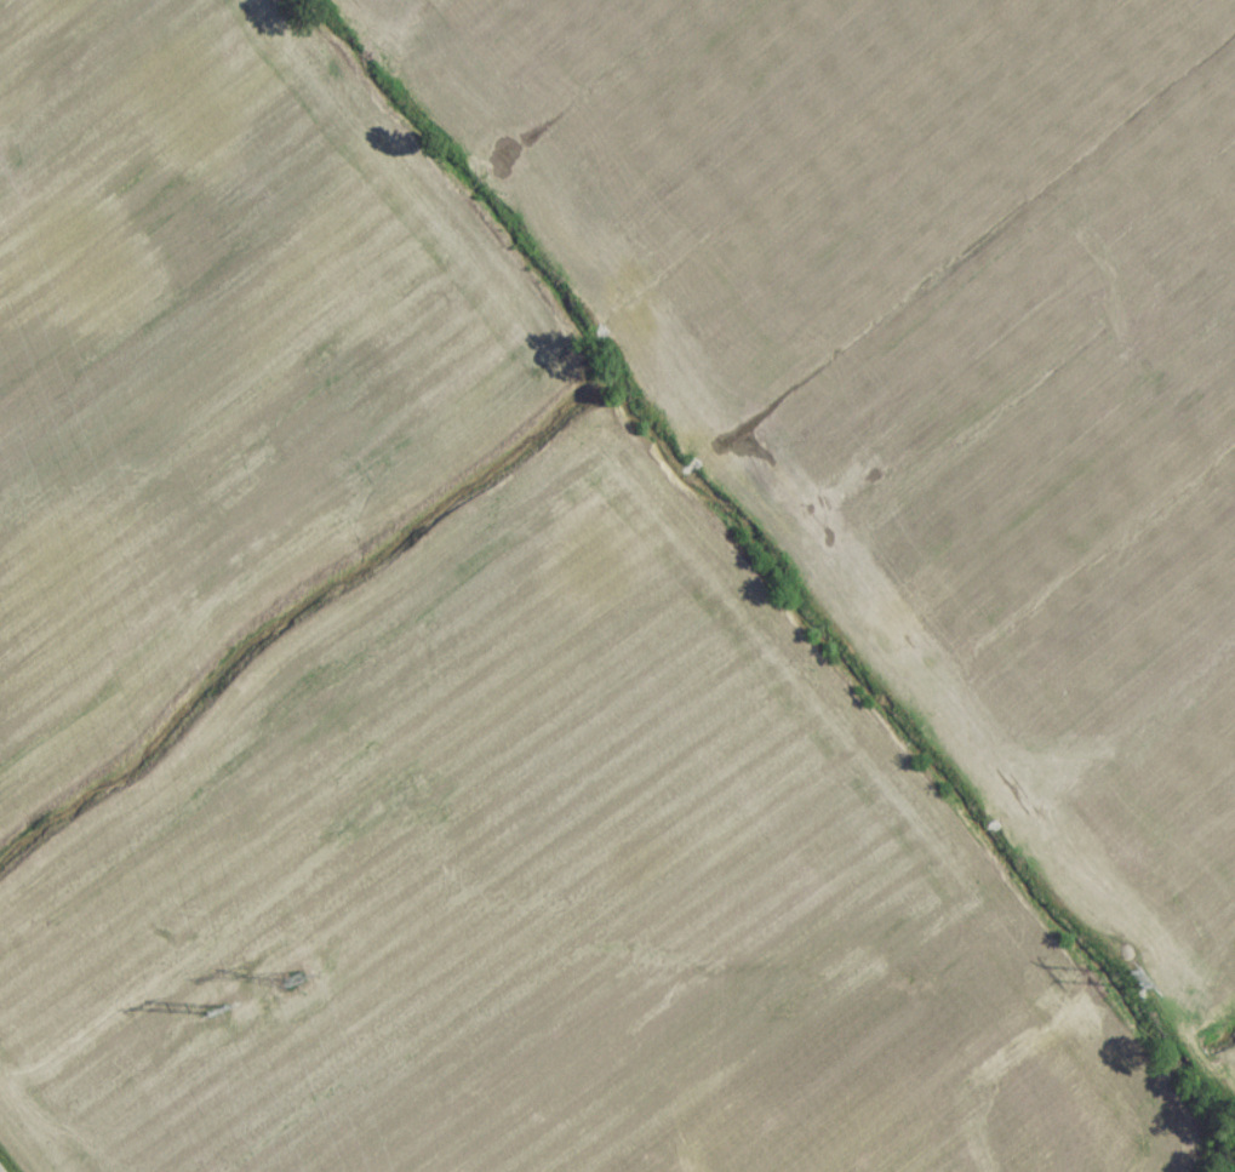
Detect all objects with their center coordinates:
power tower: (287, 990)
power tower: (1132, 990)
power tower: (210, 1016)

